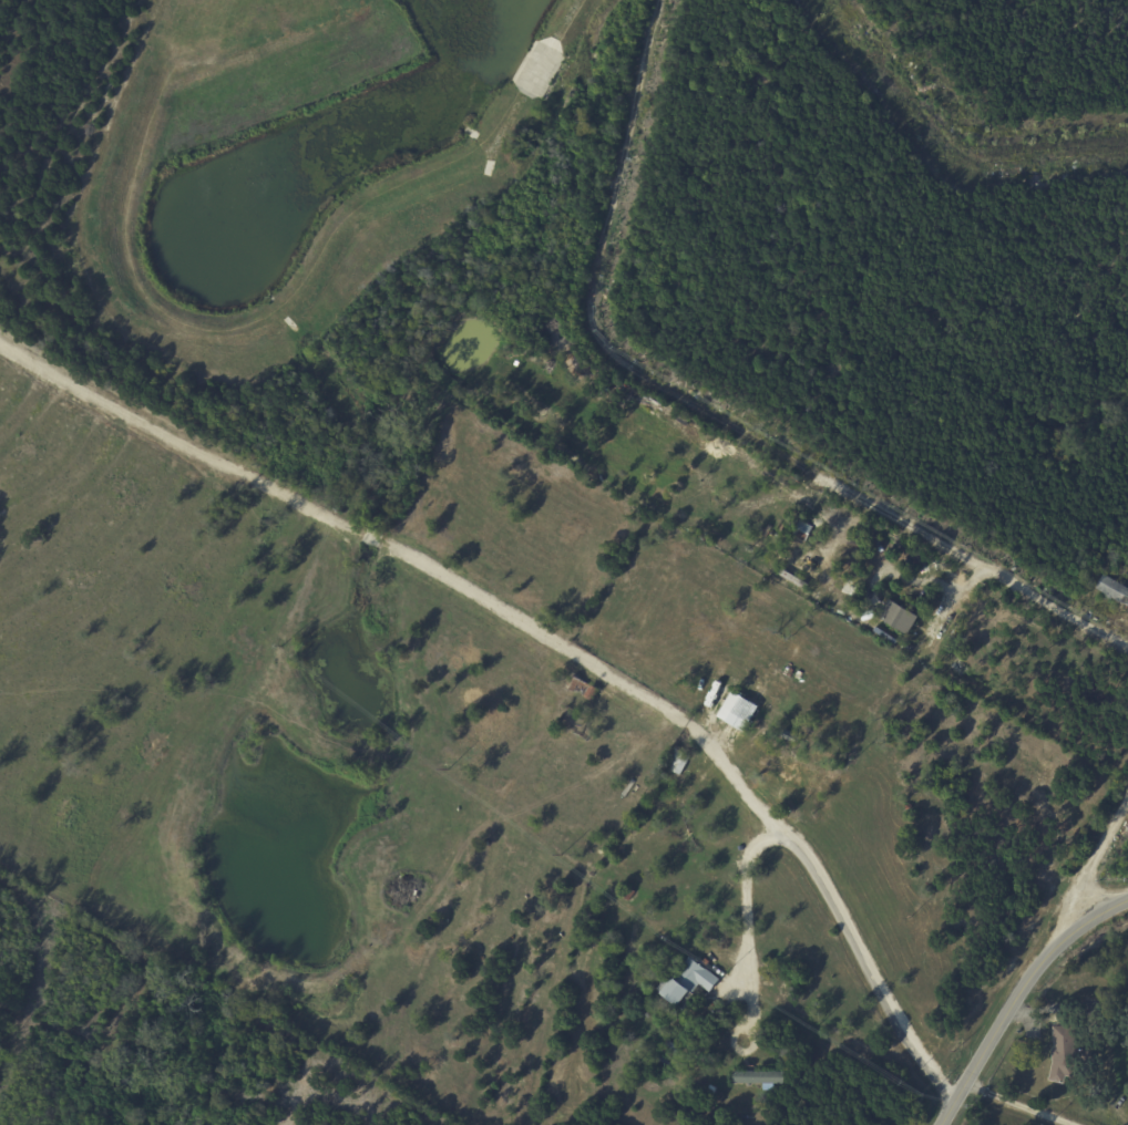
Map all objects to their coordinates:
road: (951, 140)
road: (597, 296)
building: (803, 531)
building: (858, 557)
road: (977, 560)
building: (794, 581)
building: (851, 589)
building: (1115, 592)
building: (899, 617)
building: (785, 683)
building: (583, 688)
building: (746, 709)
road: (689, 724)
building: (753, 735)
building: (790, 735)
building: (677, 761)
building: (793, 776)
road: (1089, 877)
road: (816, 879)
building: (628, 894)
building: (664, 954)
building: (688, 981)
road: (1025, 998)
building: (673, 1047)
building: (642, 1049)
building: (1068, 1054)
building: (663, 1062)
building: (762, 1078)
road: (1024, 1105)

